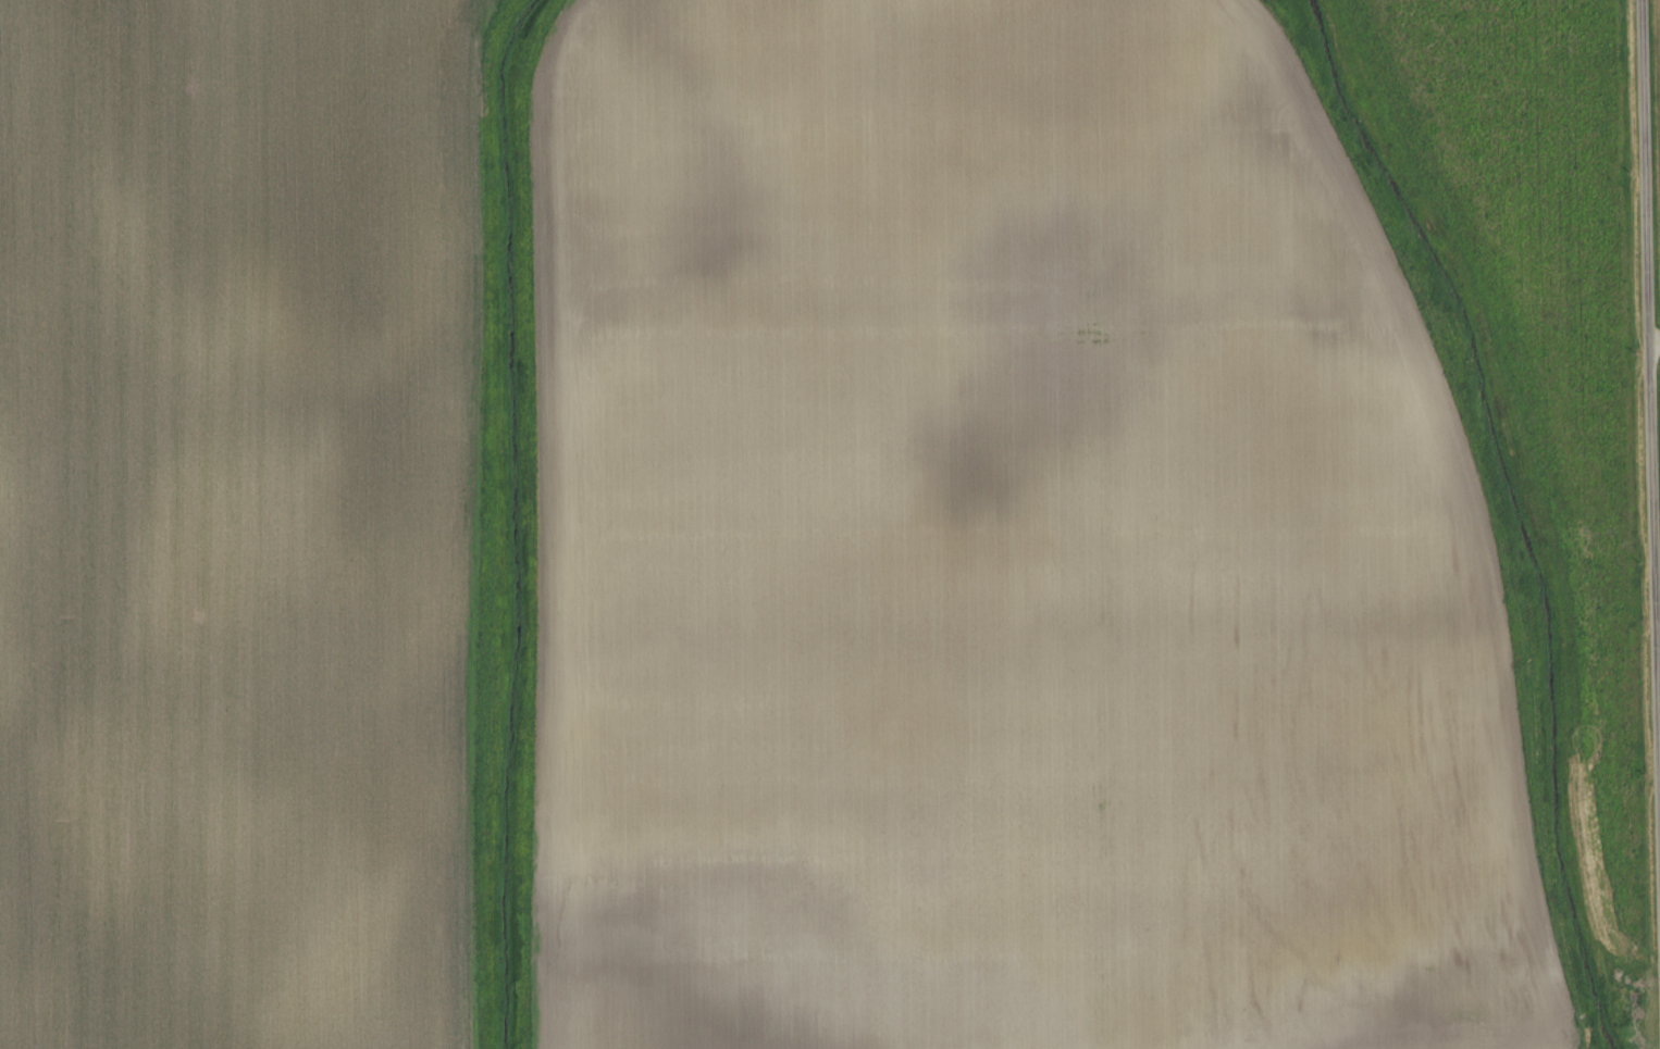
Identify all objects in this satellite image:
crop: (1658, 36)
road: (1653, 340)
road: (1649, 428)
crop: (235, 522)
crop: (1002, 551)

